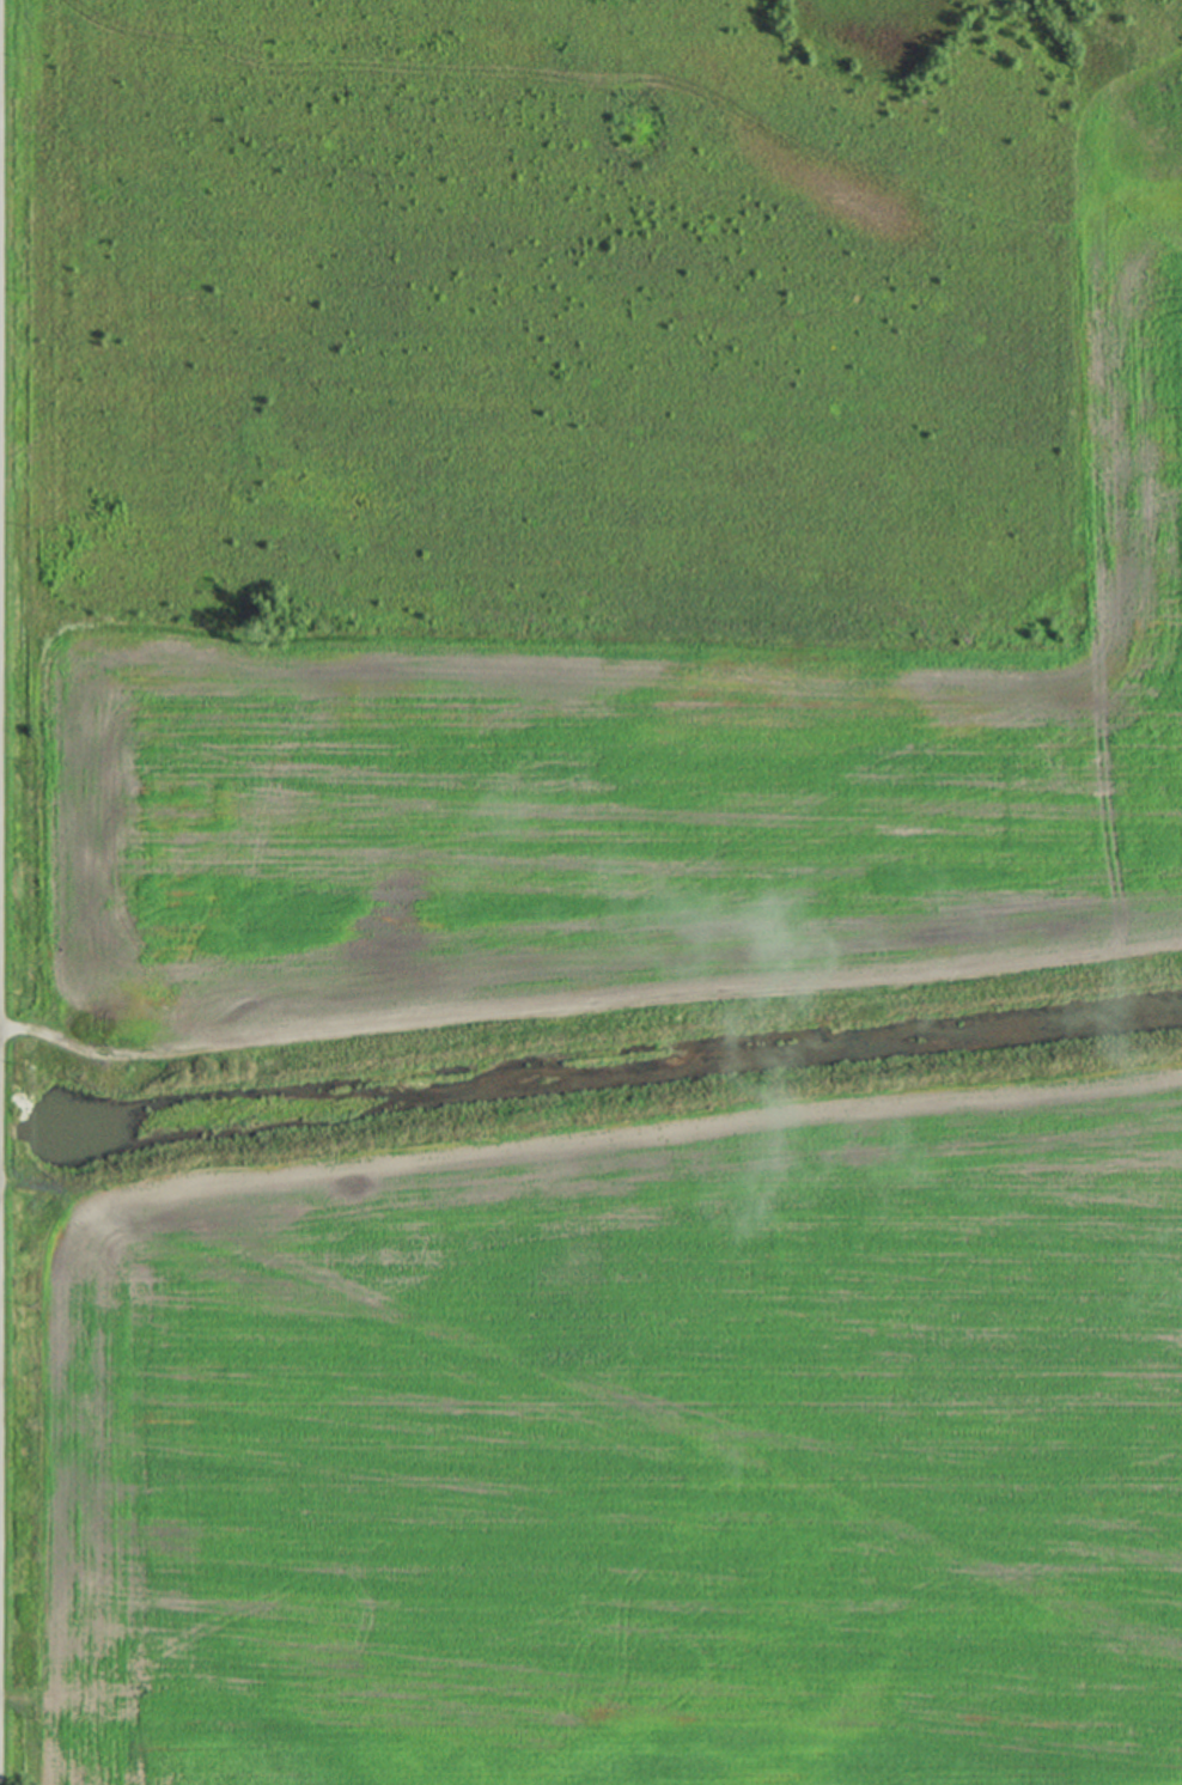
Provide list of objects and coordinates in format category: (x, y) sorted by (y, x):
road: (586, 1026)
road: (0, 1719)

